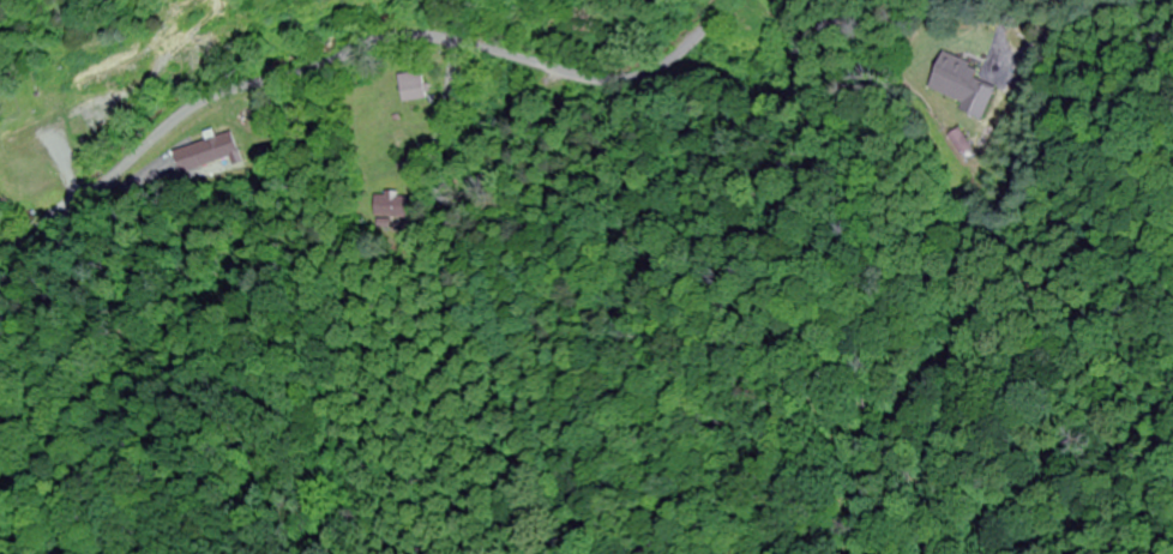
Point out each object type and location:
building: (586, 19)
road: (303, 67)
building: (962, 85)
building: (413, 88)
building: (205, 152)
building: (31, 162)
building: (395, 205)

